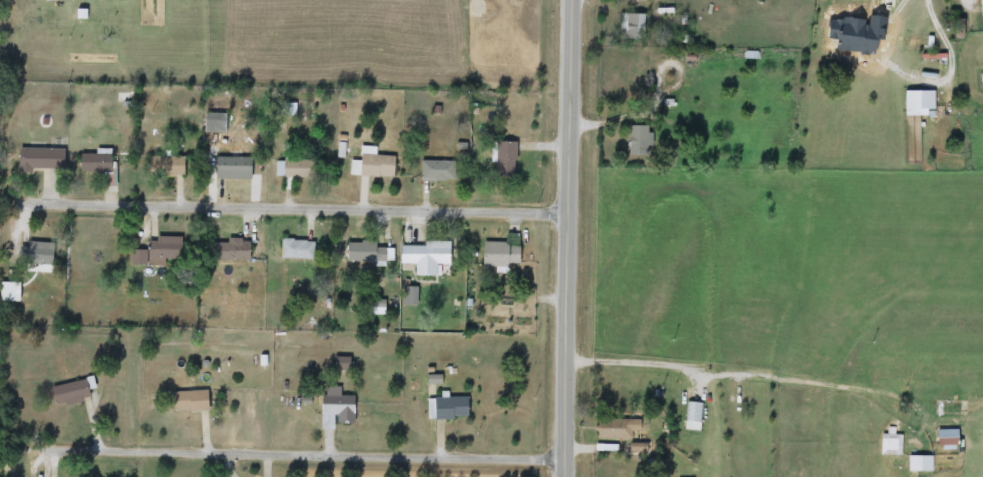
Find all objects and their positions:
road: (966, 6)
building: (981, 8)
building: (634, 26)
road: (659, 71)
building: (982, 81)
road: (922, 86)
road: (620, 113)
building: (215, 123)
building: (641, 140)
building: (506, 158)
building: (42, 159)
building: (96, 163)
building: (377, 165)
building: (166, 166)
building: (236, 168)
building: (300, 169)
building: (437, 171)
road: (296, 201)
road: (568, 238)
building: (297, 249)
building: (231, 250)
building: (160, 252)
building: (366, 252)
building: (36, 253)
building: (501, 254)
building: (426, 257)
building: (10, 291)
building: (411, 296)
building: (342, 364)
road: (735, 373)
building: (70, 392)
building: (191, 401)
building: (338, 405)
building: (448, 408)
building: (693, 416)
building: (618, 427)
building: (948, 438)
building: (891, 445)
road: (22, 447)
road: (310, 450)
building: (920, 464)

